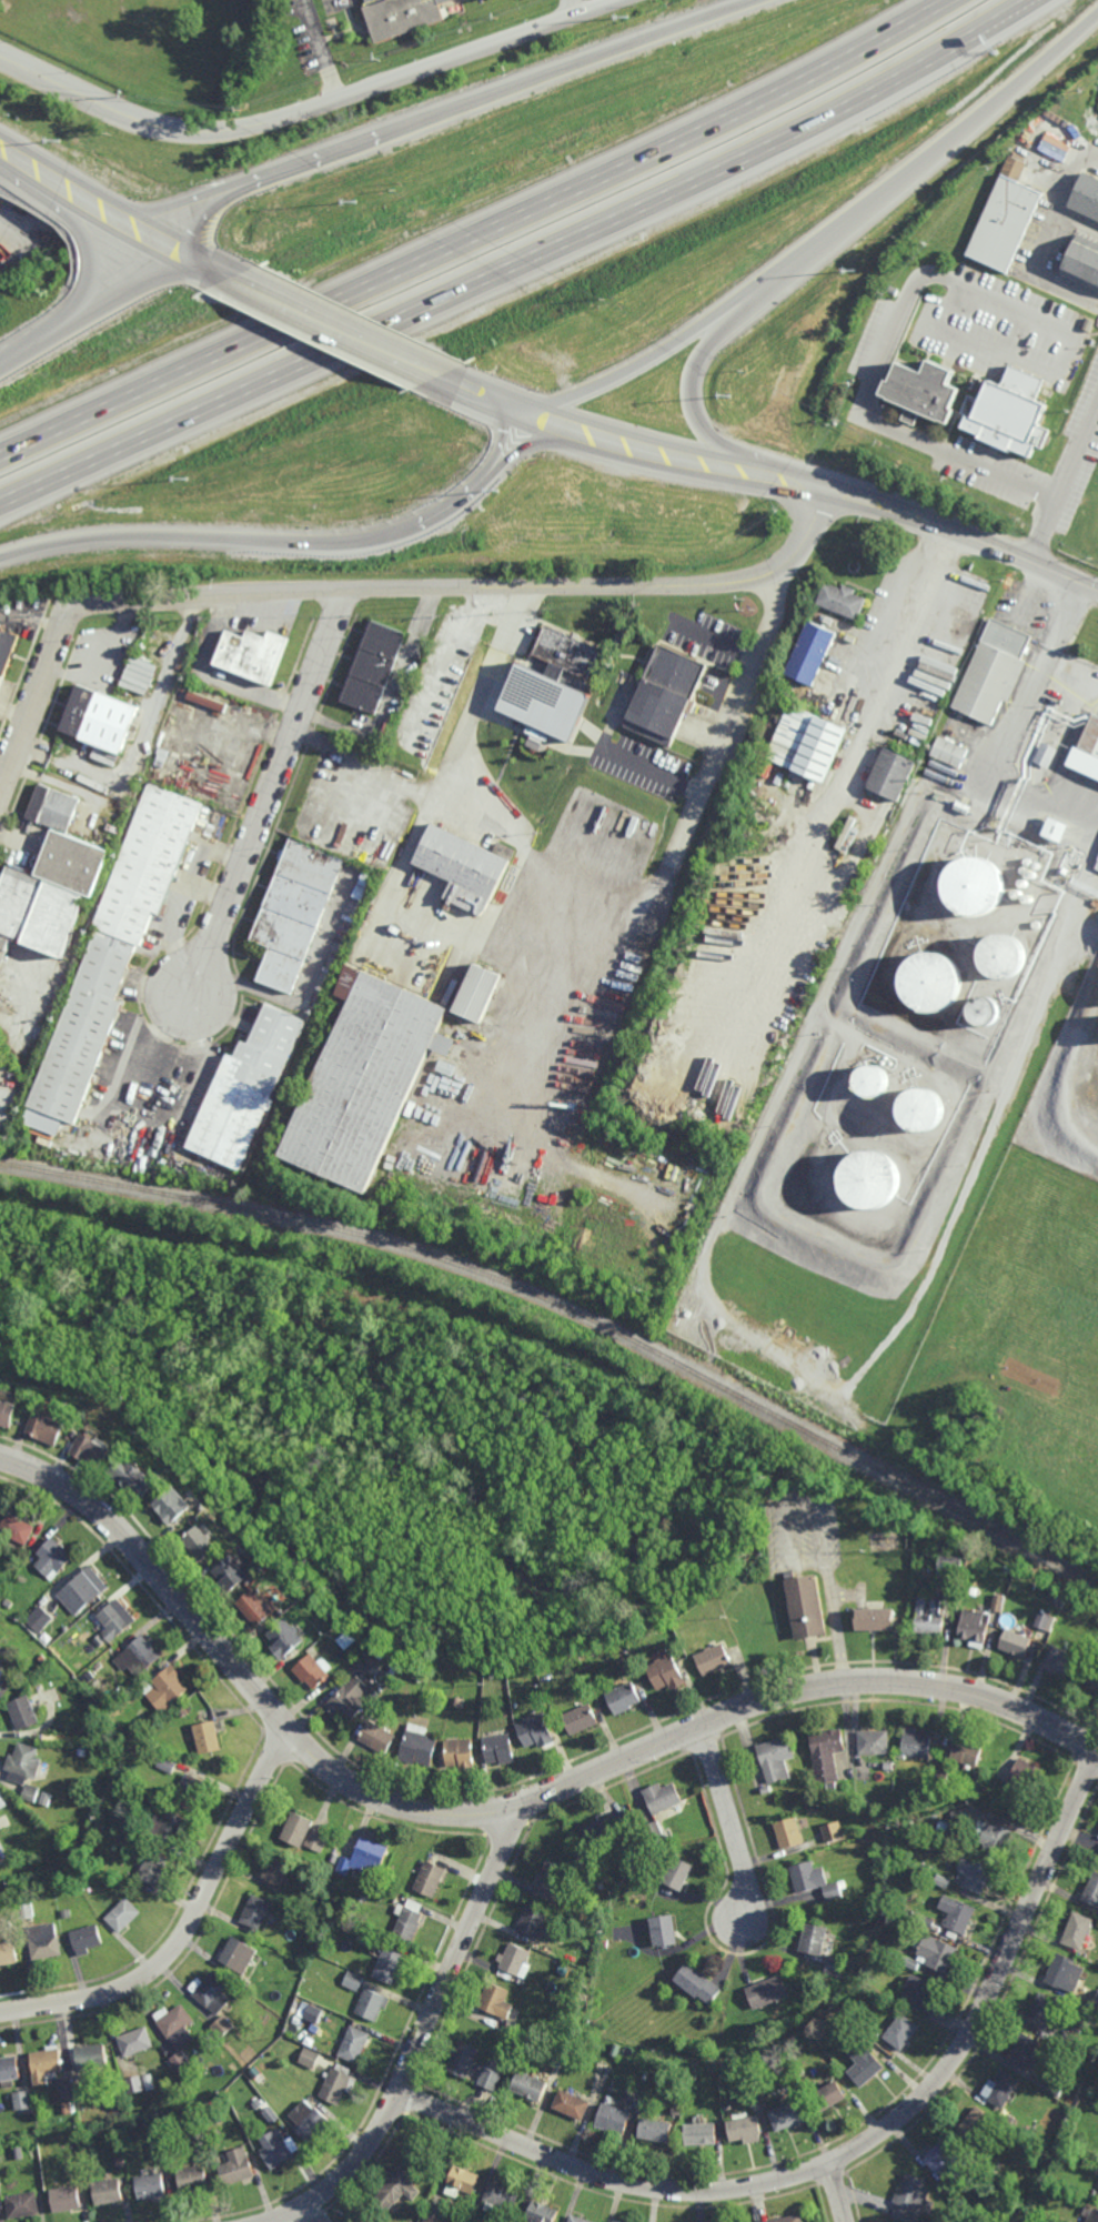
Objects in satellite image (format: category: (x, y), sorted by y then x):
road: (572, 7)
building: (402, 16)
road: (318, 49)
road: (565, 66)
road: (306, 107)
building: (1055, 148)
road: (320, 158)
road: (926, 161)
building: (1087, 194)
road: (181, 204)
road: (213, 211)
road: (115, 214)
building: (1005, 222)
road: (477, 237)
road: (1049, 238)
road: (521, 261)
building: (1084, 261)
road: (90, 273)
road: (123, 300)
road: (340, 328)
parking lot: (997, 328)
parking lot: (870, 336)
road: (21, 353)
road: (996, 355)
road: (644, 362)
road: (878, 368)
building: (925, 391)
building: (1010, 412)
road: (702, 420)
road: (504, 438)
parking lot: (1082, 443)
road: (527, 446)
road: (774, 476)
road: (1066, 486)
road: (254, 542)
road: (488, 586)
flagpole: (744, 600)
building: (842, 601)
flagpole: (747, 606)
flagpole: (756, 607)
road: (32, 617)
building: (7, 650)
building: (568, 652)
building: (810, 653)
building: (252, 655)
road: (108, 665)
building: (373, 667)
building: (994, 673)
road: (214, 674)
building: (0, 675)
building: (1, 681)
road: (39, 691)
building: (664, 694)
building: (205, 701)
building: (543, 702)
road: (874, 703)
road: (151, 708)
building: (100, 718)
building: (1091, 738)
building: (808, 744)
building: (949, 753)
building: (1047, 755)
road: (4, 770)
building: (892, 773)
road: (268, 788)
building: (1056, 830)
building: (66, 841)
building: (466, 868)
building: (1097, 868)
building: (364, 877)
building: (974, 885)
storage tank: (974, 885)
building: (359, 889)
building: (37, 909)
building: (293, 909)
road: (598, 912)
building: (112, 954)
building: (1003, 955)
storage tank: (1003, 955)
building: (934, 979)
storage tank: (934, 979)
building: (480, 992)
building: (987, 1009)
storage tank: (987, 1009)
road: (159, 1058)
building: (366, 1078)
building: (874, 1080)
storage tank: (874, 1080)
building: (248, 1088)
building: (923, 1108)
storage tank: (923, 1108)
building: (872, 1179)
storage tank: (872, 1179)
railway: (572, 1310)
road: (467, 1402)
building: (7, 1414)
building: (47, 1429)
building: (92, 1452)
building: (134, 1476)
building: (172, 1501)
road: (629, 1519)
building: (16, 1527)
building: (201, 1540)
building: (53, 1556)
building: (948, 1564)
building: (232, 1571)
building: (83, 1589)
building: (973, 1589)
building: (997, 1601)
building: (8, 1602)
building: (807, 1602)
building: (255, 1606)
building: (930, 1615)
building: (875, 1616)
building: (39, 1618)
building: (1041, 1619)
building: (114, 1620)
building: (1097, 1620)
building: (974, 1626)
building: (285, 1637)
building: (1015, 1641)
building: (688, 1651)
building: (138, 1656)
building: (403, 1656)
building: (716, 1657)
building: (41, 1658)
building: (354, 1658)
building: (374, 1659)
building: (1060, 1662)
building: (440, 1668)
building: (672, 1669)
building: (312, 1670)
building: (1, 1672)
building: (1094, 1678)
building: (581, 1679)
building: (40, 1688)
building: (167, 1688)
building: (627, 1695)
building: (349, 1698)
building: (183, 1710)
building: (23, 1711)
building: (582, 1717)
building: (535, 1730)
building: (376, 1736)
building: (208, 1737)
building: (875, 1741)
building: (916, 1742)
building: (417, 1747)
building: (498, 1748)
building: (82, 1751)
building: (967, 1751)
building: (460, 1752)
building: (827, 1752)
building: (775, 1759)
building: (167, 1763)
building: (889, 1767)
building: (24, 1768)
building: (1026, 1772)
building: (943, 1777)
building: (832, 1786)
building: (766, 1789)
building: (938, 1789)
building: (189, 1790)
building: (140, 1797)
building: (662, 1797)
building: (46, 1798)
building: (2, 1800)
building: (830, 1809)
road: (496, 1811)
building: (963, 1818)
road: (728, 1821)
building: (1, 1824)
building: (101, 1826)
building: (168, 1827)
building: (607, 1828)
building: (654, 1829)
building: (833, 1831)
building: (303, 1832)
building: (788, 1832)
building: (997, 1841)
building: (656, 1842)
building: (362, 1857)
building: (332, 1858)
building: (647, 1860)
building: (0, 1862)
building: (153, 1868)
building: (279, 1869)
building: (678, 1873)
building: (977, 1874)
building: (387, 1877)
building: (429, 1878)
building: (551, 1880)
building: (814, 1880)
building: (944, 1881)
building: (1091, 1891)
building: (602, 1896)
building: (363, 1898)
building: (311, 1908)
building: (24, 1909)
building: (255, 1911)
building: (66, 1912)
building: (958, 1913)
building: (123, 1914)
building: (272, 1918)
building: (409, 1919)
building: (532, 1921)
building: (927, 1922)
road: (190, 1926)
building: (665, 1931)
building: (1076, 1931)
building: (367, 1938)
building: (85, 1939)
building: (814, 1939)
building: (44, 1941)
building: (590, 1941)
building: (604, 1943)
building: (858, 1950)
building: (8, 1952)
building: (239, 1954)
building: (939, 1954)
building: (513, 1961)
building: (911, 1963)
building: (389, 1965)
building: (836, 1968)
building: (866, 1970)
building: (564, 1972)
building: (1064, 1975)
building: (353, 1981)
building: (698, 1984)
building: (766, 1992)
building: (921, 1993)
building: (213, 1994)
building: (494, 2001)
building: (371, 2003)
building: (1095, 2004)
building: (855, 2008)
building: (313, 2013)
building: (1044, 2013)
building: (175, 2021)
building: (784, 2023)
building: (222, 2027)
building: (517, 2029)
building: (903, 2033)
road: (424, 2038)
building: (809, 2038)
building: (135, 2041)
building: (1068, 2042)
building: (353, 2044)
building: (1025, 2054)
building: (92, 2057)
building: (310, 2058)
building: (463, 2060)
building: (181, 2062)
building: (863, 2063)
building: (46, 2064)
building: (262, 2064)
building: (495, 2065)
building: (724, 2068)
building: (9, 2069)
building: (692, 2072)
building: (491, 2080)
building: (134, 2084)
building: (335, 2085)
building: (530, 2087)
building: (1055, 2088)
building: (747, 2089)
building: (68, 2091)
building: (999, 2091)
building: (828, 2098)
building: (22, 2100)
building: (255, 2103)
building: (572, 2105)
building: (67, 2108)
building: (270, 2114)
building: (215, 2117)
building: (787, 2117)
building: (616, 2120)
building: (1008, 2121)
building: (311, 2124)
building: (974, 2125)
building: (745, 2131)
building: (655, 2132)
building: (701, 2135)
building: (200, 2144)
building: (1040, 2145)
building: (159, 2150)
road: (854, 2150)
building: (275, 2151)
building: (18, 2152)
building: (979, 2154)
building: (946, 2160)
building: (120, 2162)
building: (235, 2168)
building: (72, 2173)
building: (192, 2179)
building: (464, 2181)
building: (151, 2186)
building: (107, 2191)
building: (395, 2192)
road: (840, 2193)
building: (1097, 2195)
building: (64, 2199)
building: (502, 2199)
building: (1097, 2199)
building: (911, 2201)
building: (22, 2205)
building: (948, 2210)
road: (313, 2213)
building: (542, 2213)
building: (1094, 2218)
road: (279, 2220)
building: (411, 2220)
building: (431, 2220)
building: (577, 2220)
building: (793, 2220)
building: (615, 2221)

